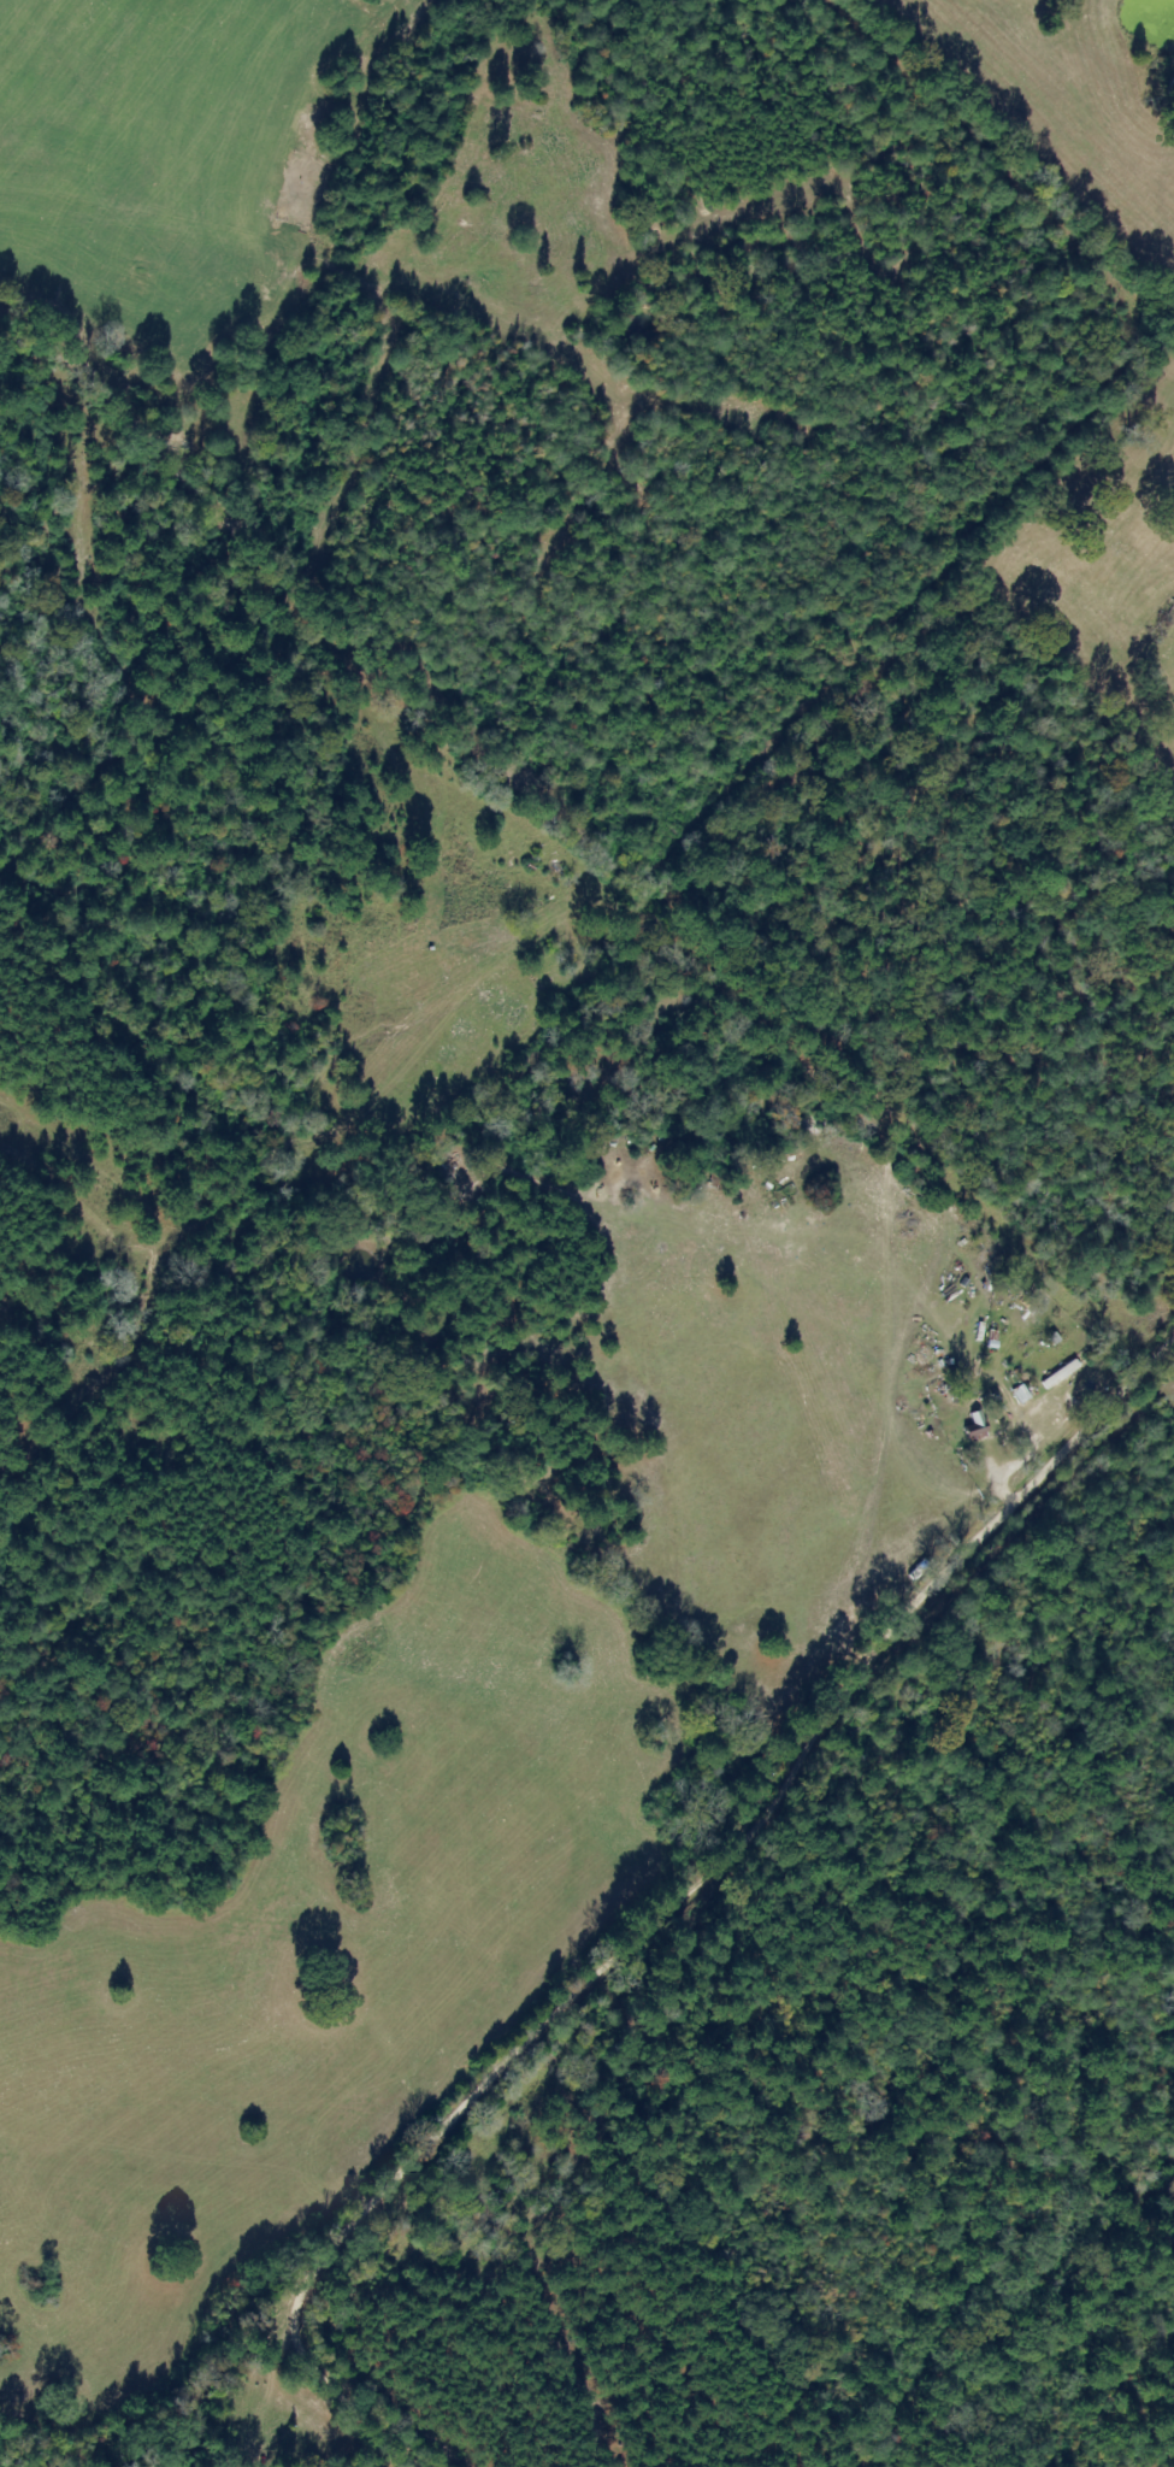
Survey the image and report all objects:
building: (1027, 1395)
road: (661, 1896)

